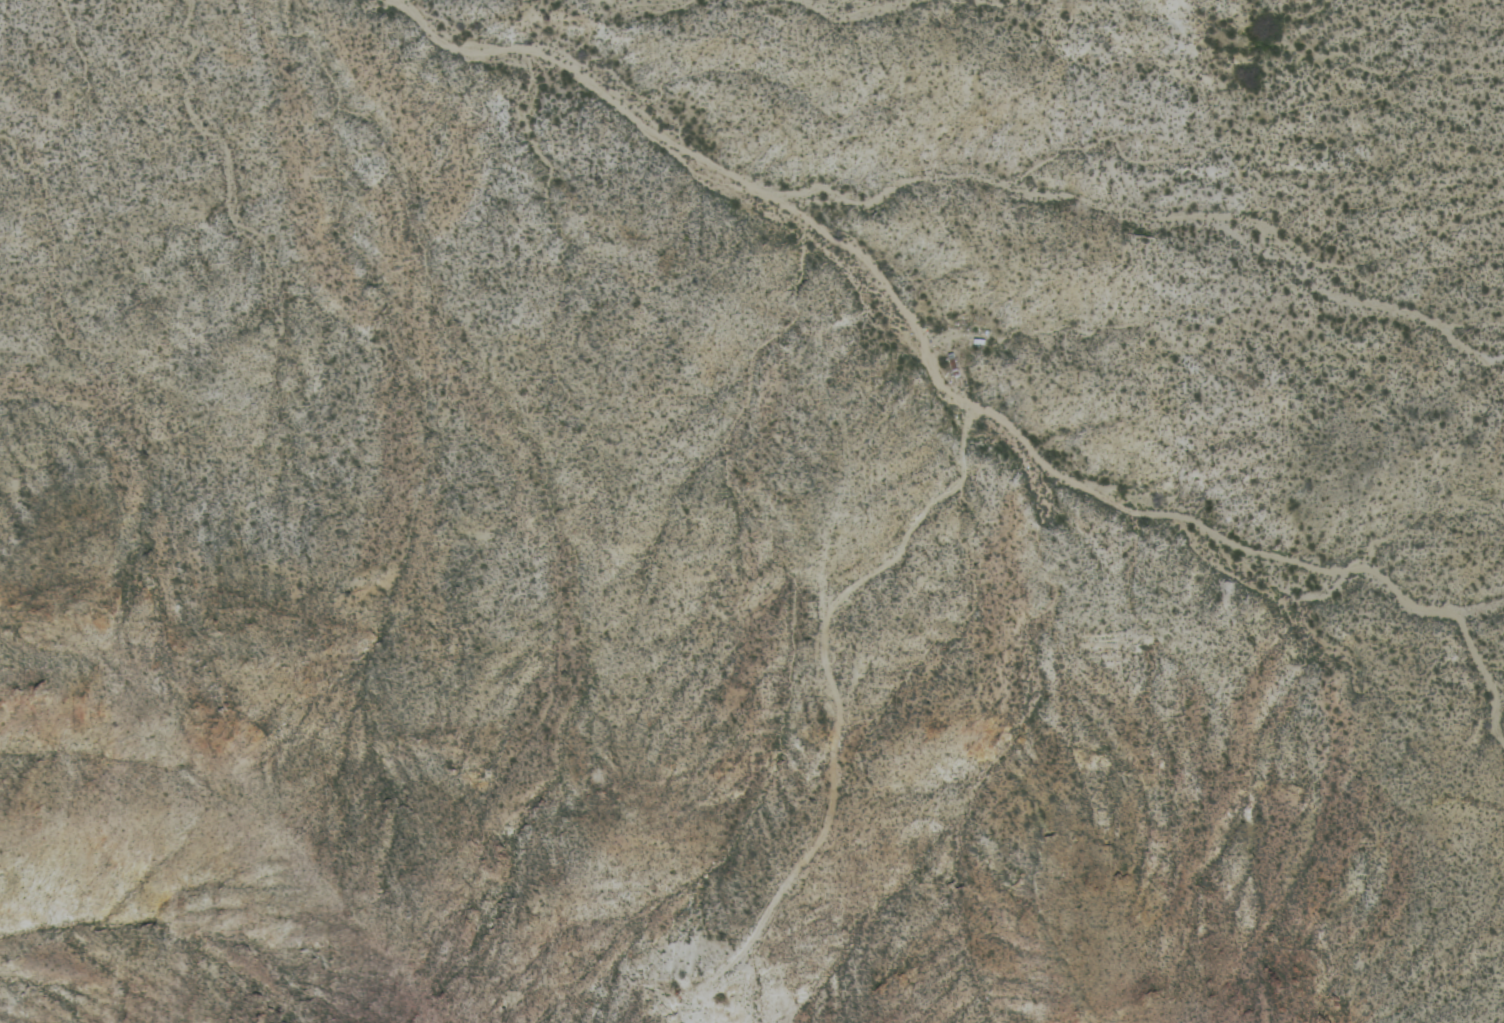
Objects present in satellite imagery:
road: (1287, 561)

